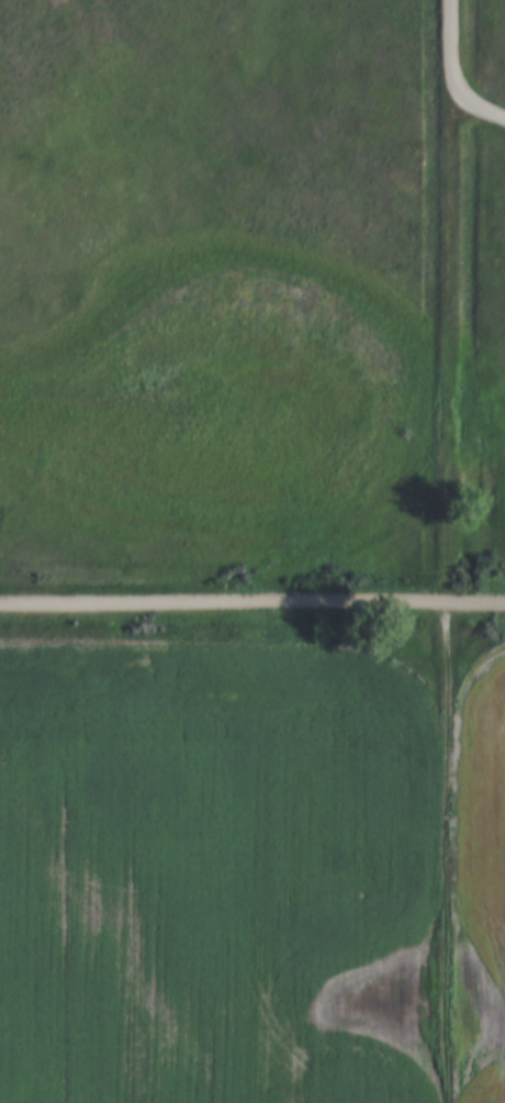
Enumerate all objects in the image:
road: (451, 42)
road: (476, 104)
road: (449, 592)
road: (251, 599)

